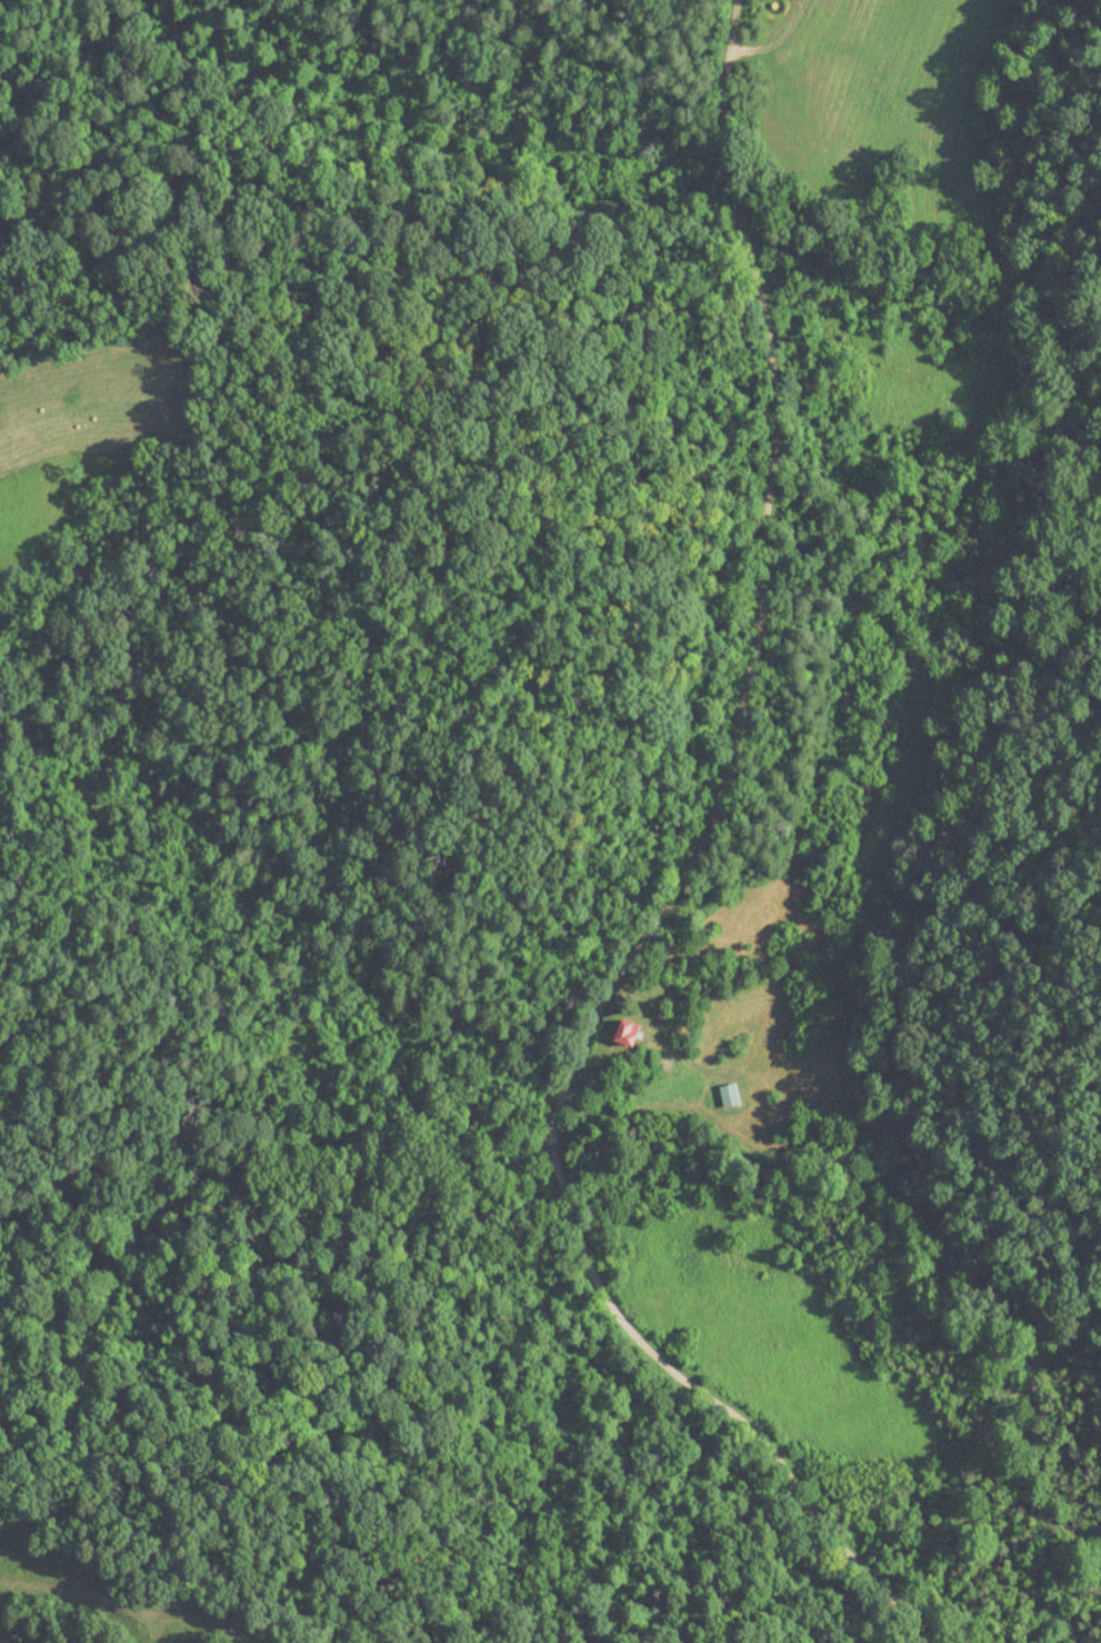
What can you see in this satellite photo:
road: (662, 892)
building: (625, 1034)

